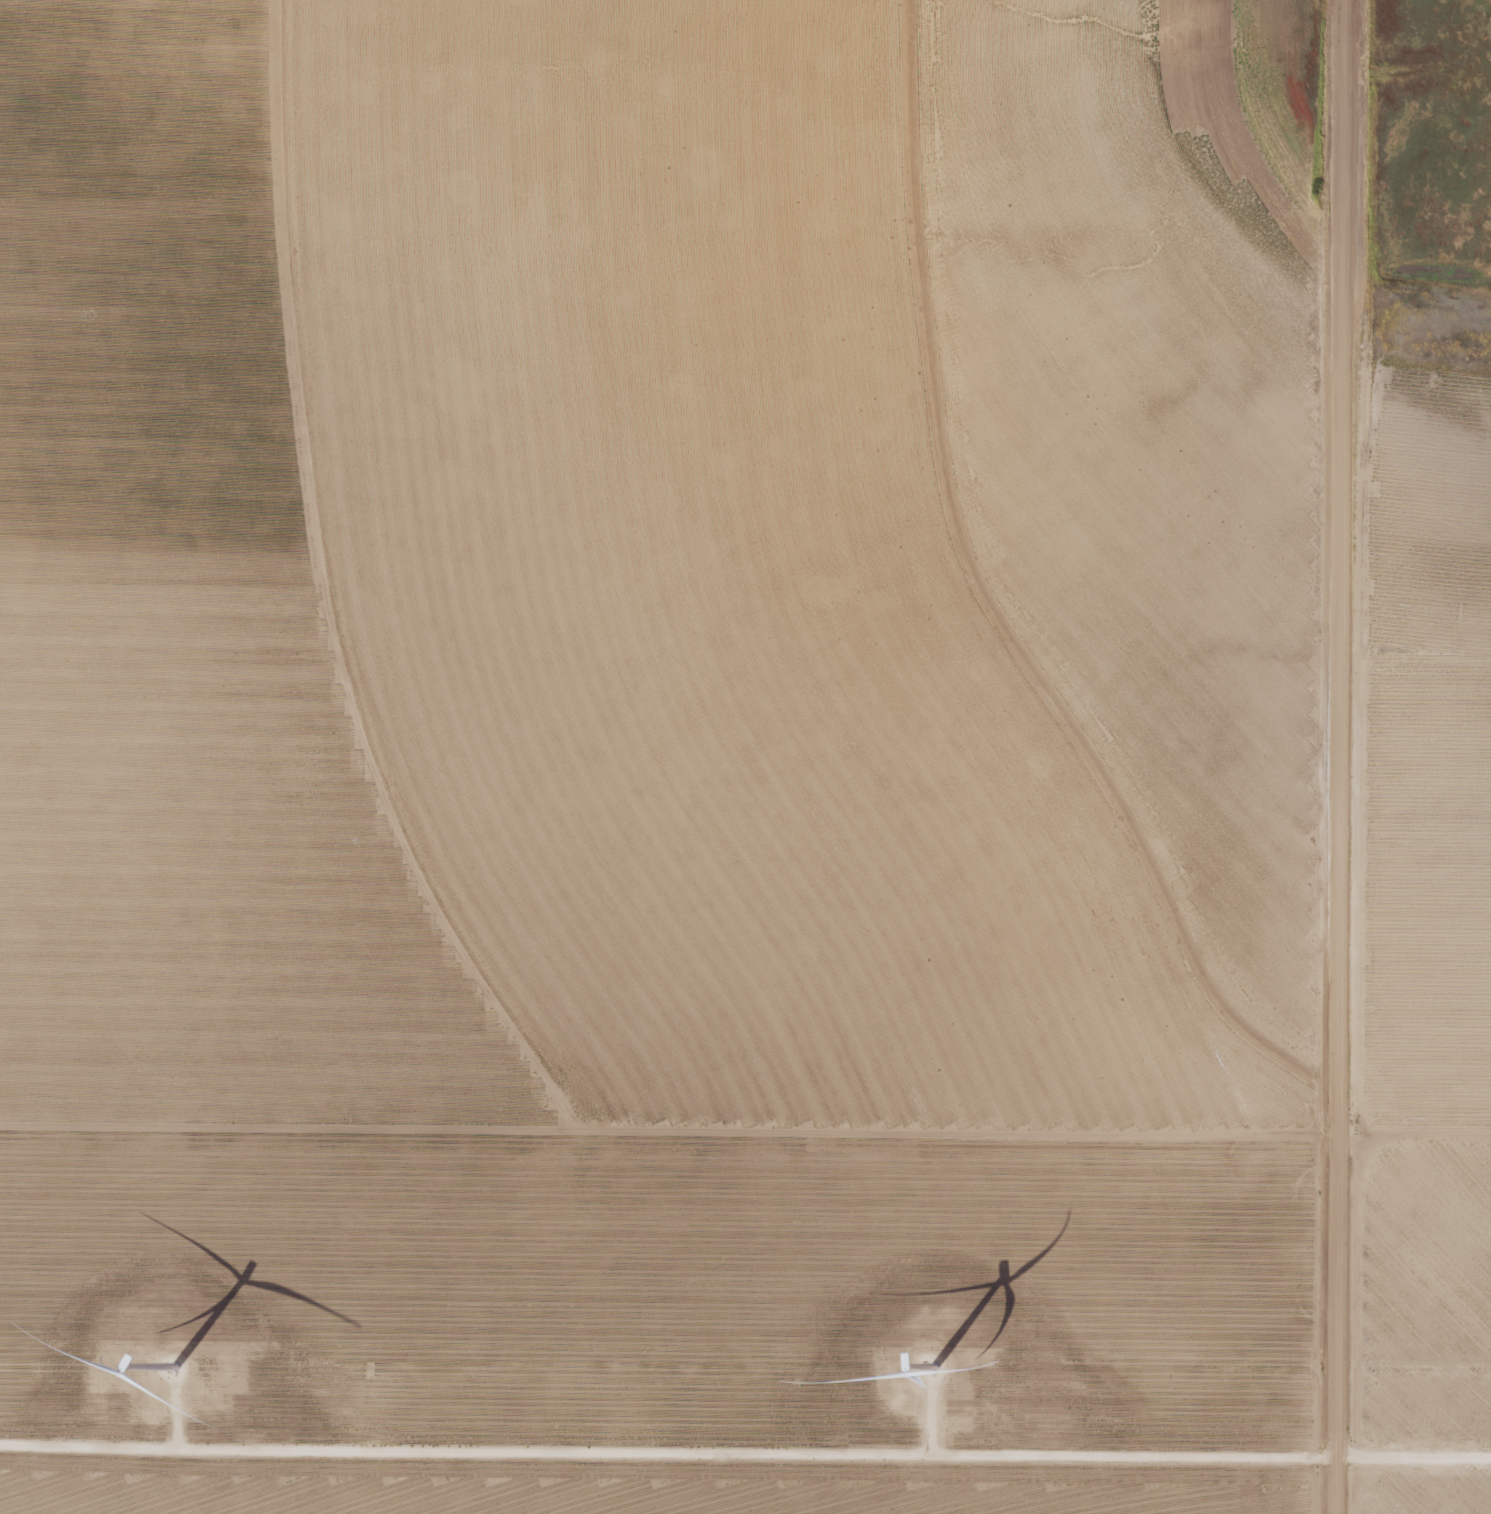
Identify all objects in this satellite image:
road: (1344, 757)
wind turbine: (922, 1374)
wind turbine: (170, 1387)

